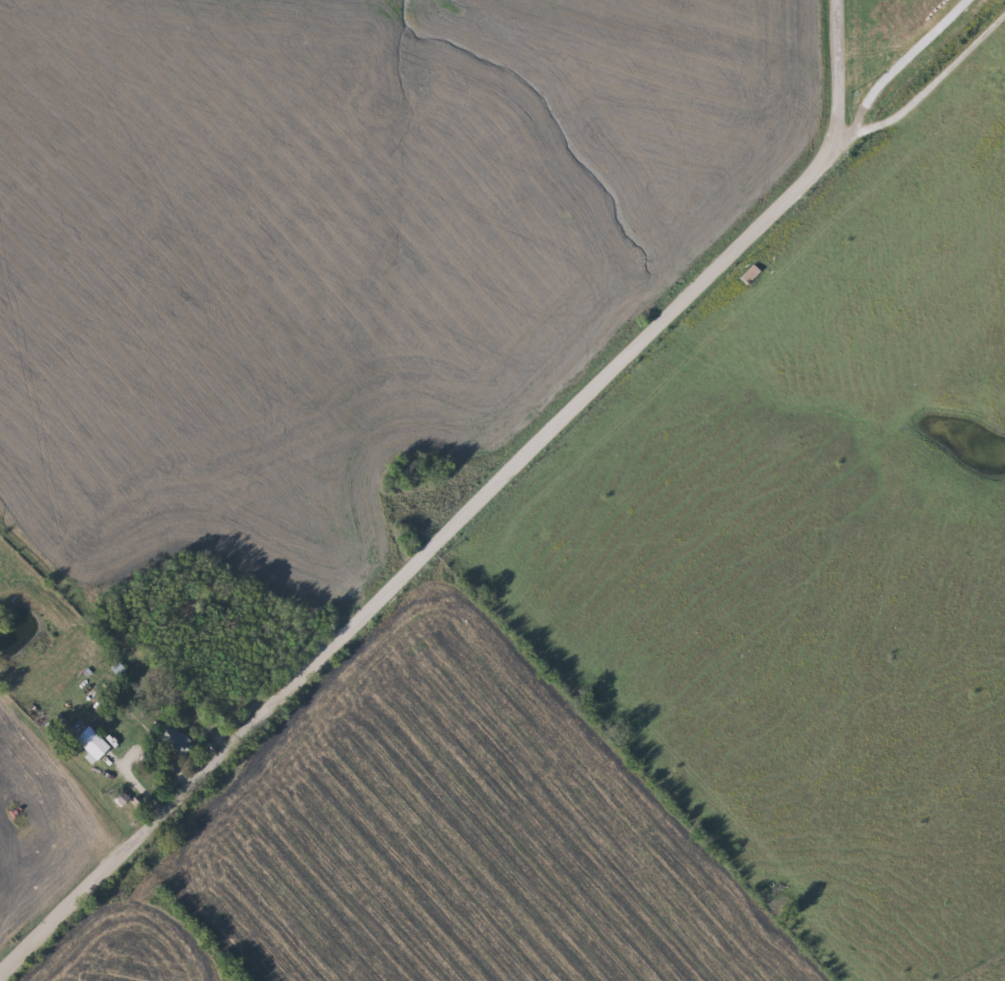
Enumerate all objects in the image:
road: (907, 57)
road: (841, 75)
building: (745, 273)
road: (496, 483)
road: (114, 630)
building: (177, 742)
building: (94, 743)

